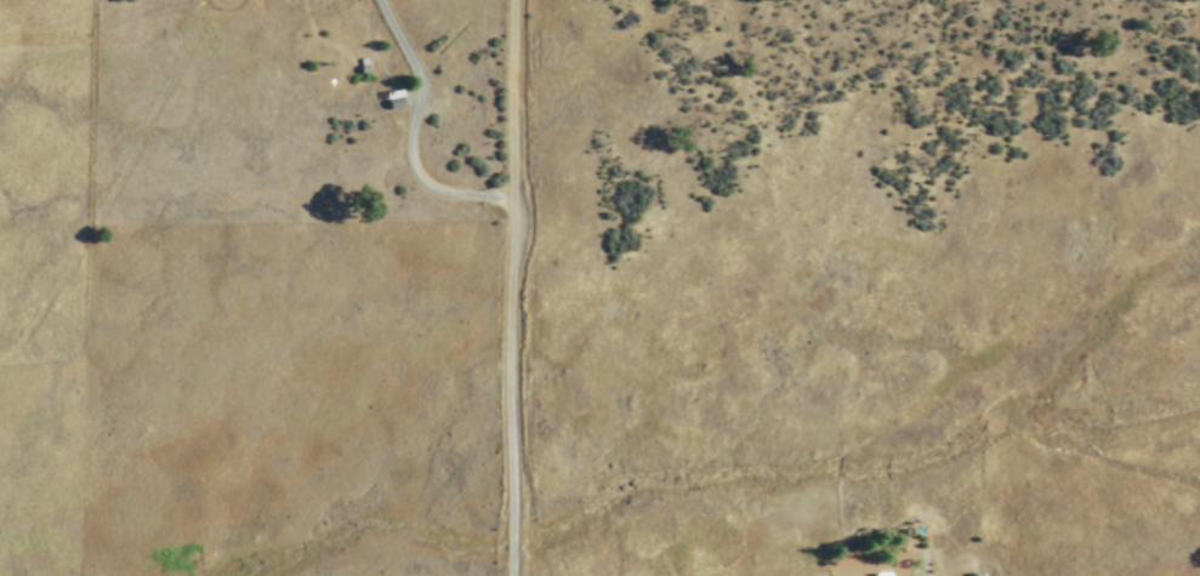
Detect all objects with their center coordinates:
road: (517, 287)

